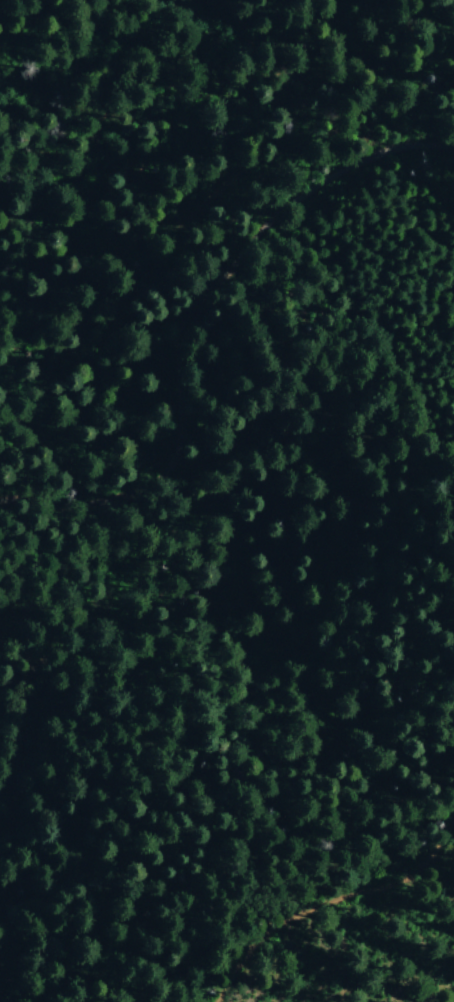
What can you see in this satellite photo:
road: (190, 313)
road: (332, 904)

